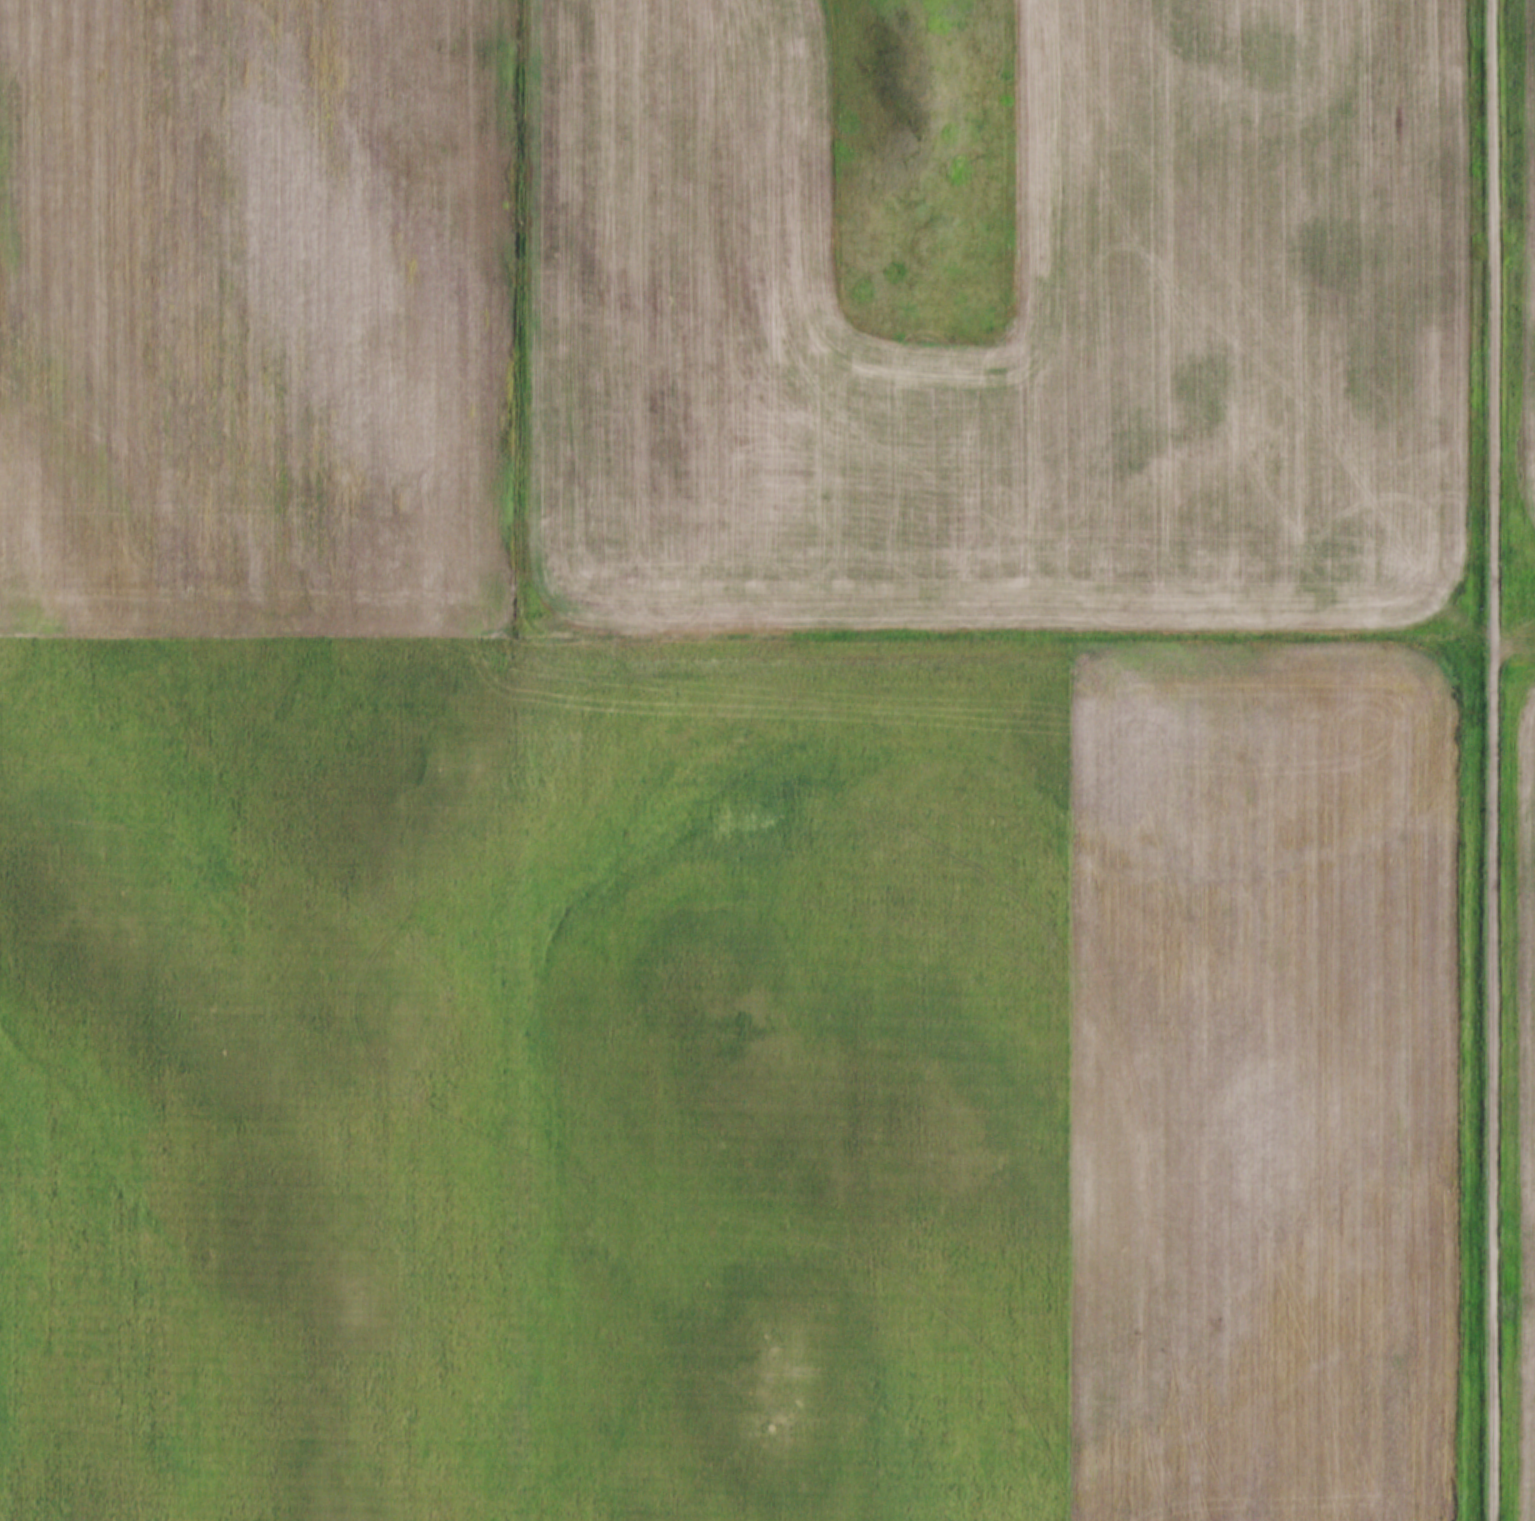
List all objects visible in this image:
road: (1491, 760)

